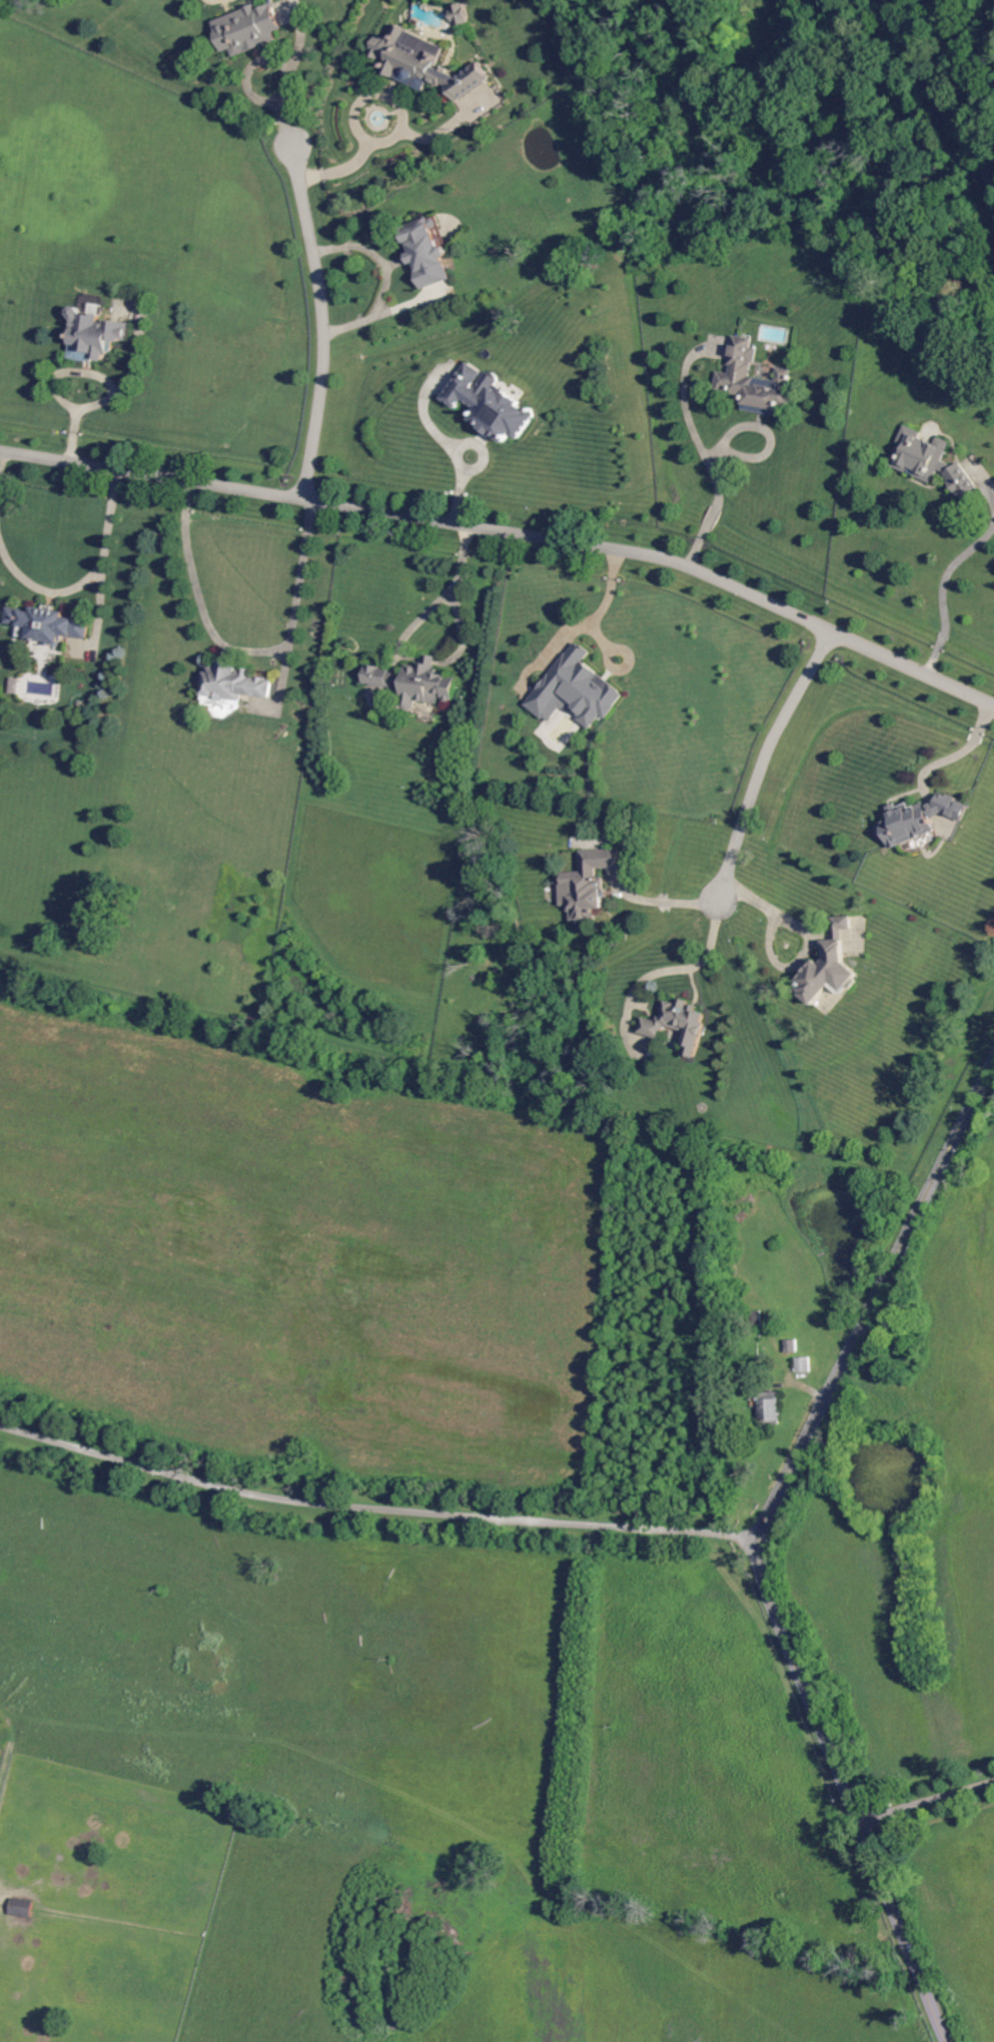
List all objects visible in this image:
building: (462, 13)
building: (249, 27)
building: (427, 62)
road: (291, 74)
road: (947, 93)
road: (401, 106)
road: (451, 126)
road: (342, 171)
building: (428, 252)
road: (383, 285)
road: (324, 320)
building: (96, 335)
building: (735, 377)
building: (491, 401)
road: (420, 412)
road: (691, 427)
road: (473, 444)
road: (2, 459)
building: (935, 461)
road: (458, 495)
road: (992, 496)
road: (710, 513)
road: (510, 531)
road: (695, 543)
road: (89, 579)
road: (456, 588)
road: (942, 590)
building: (66, 621)
road: (593, 622)
building: (35, 627)
road: (247, 650)
building: (416, 676)
building: (236, 680)
road: (961, 752)
road: (761, 758)
building: (916, 819)
building: (594, 876)
road: (667, 901)
road: (812, 931)
road: (694, 966)
building: (829, 968)
building: (677, 1022)
road: (950, 1154)
building: (755, 1320)
building: (790, 1346)
building: (802, 1364)
building: (770, 1407)
road: (375, 1510)
road: (787, 1638)
road: (926, 1797)
building: (23, 1908)

